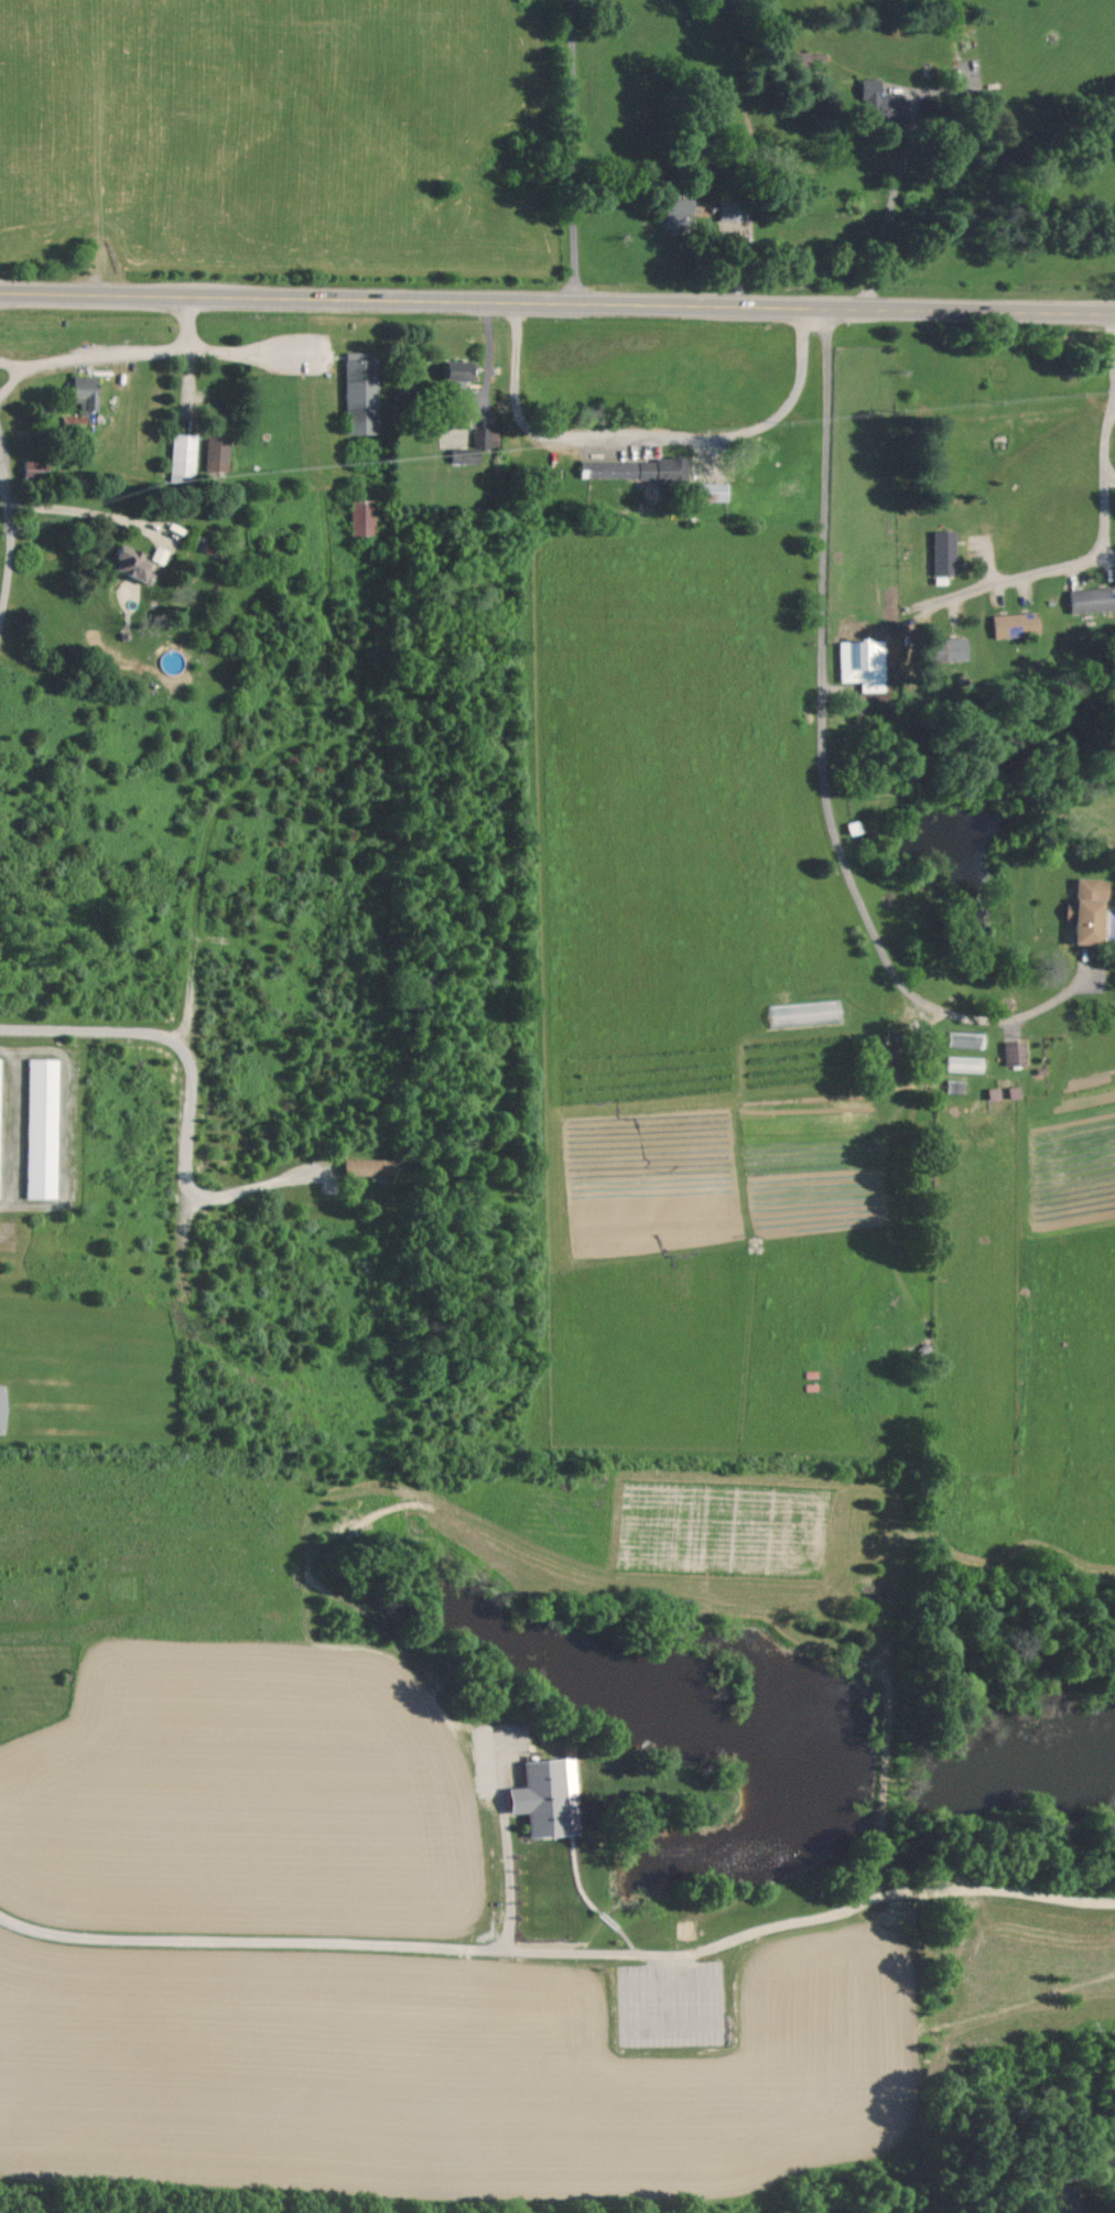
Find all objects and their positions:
building: (880, 100)
road: (574, 153)
road: (890, 197)
building: (681, 214)
building: (734, 216)
road: (556, 309)
road: (188, 324)
road: (167, 349)
road: (23, 370)
building: (462, 374)
building: (87, 392)
building: (362, 392)
building: (73, 421)
building: (486, 438)
road: (651, 442)
building: (218, 452)
building: (184, 457)
building: (636, 468)
building: (39, 469)
road: (1109, 477)
building: (715, 492)
road: (83, 511)
building: (364, 517)
road: (8, 533)
building: (945, 552)
road: (1090, 557)
building: (137, 564)
building: (1092, 600)
building: (1017, 624)
building: (955, 649)
building: (865, 663)
road: (823, 767)
building: (1080, 908)
building: (1010, 1052)
road: (192, 1094)
building: (0, 1101)
building: (44, 1127)
building: (362, 1166)
building: (541, 1795)
road: (509, 1882)
road: (894, 1891)
road: (338, 1941)

